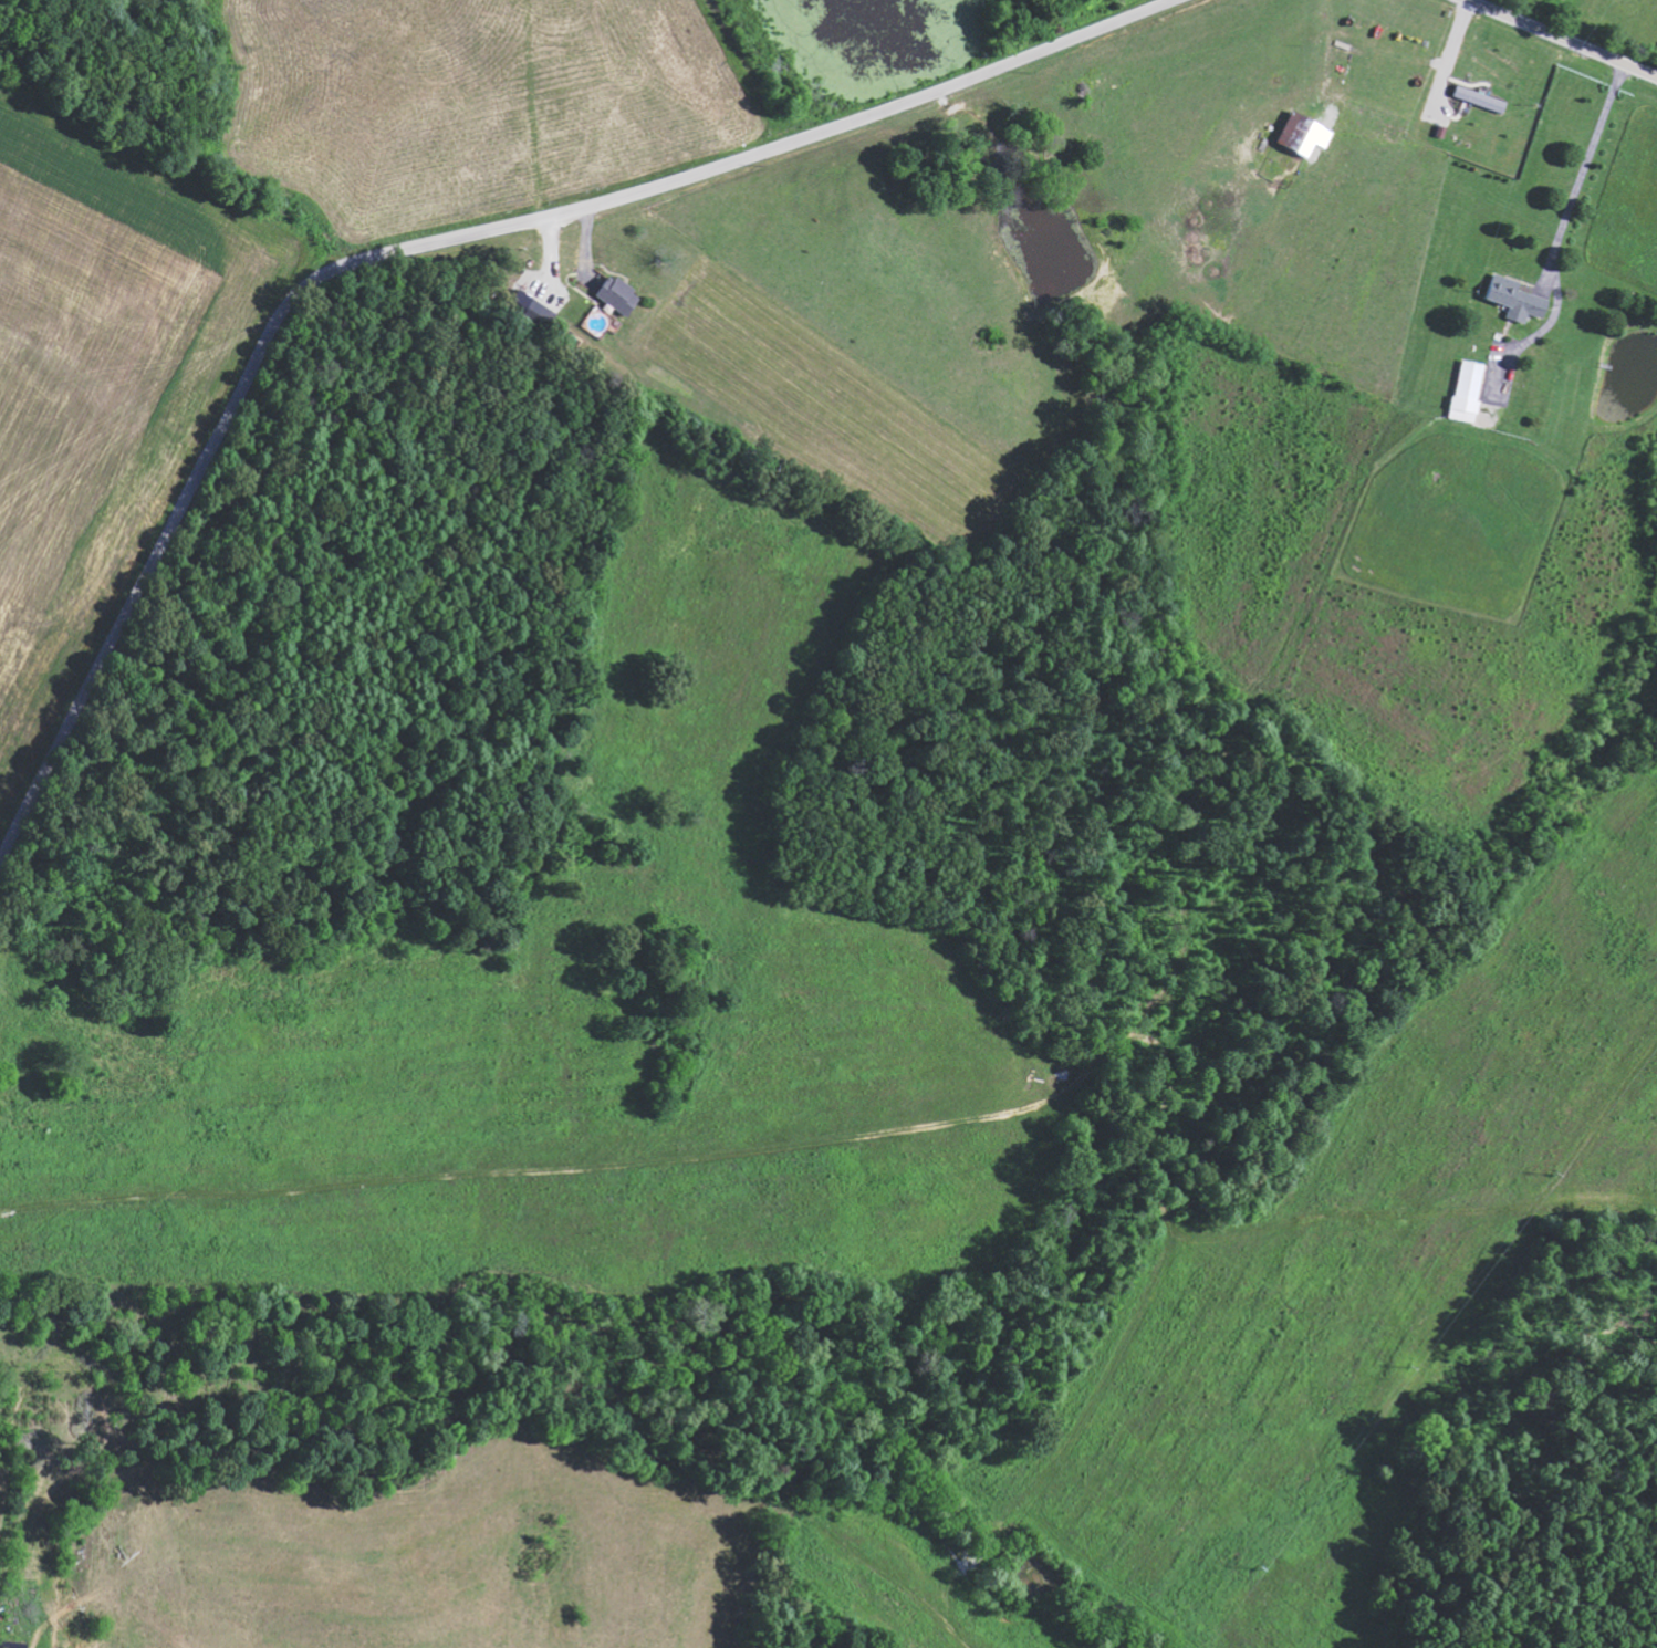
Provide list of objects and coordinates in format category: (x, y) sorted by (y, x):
road: (1562, 39)
building: (1481, 97)
road: (779, 117)
building: (1303, 133)
building: (619, 294)
building: (1517, 298)
building: (1470, 390)
road: (187, 493)

